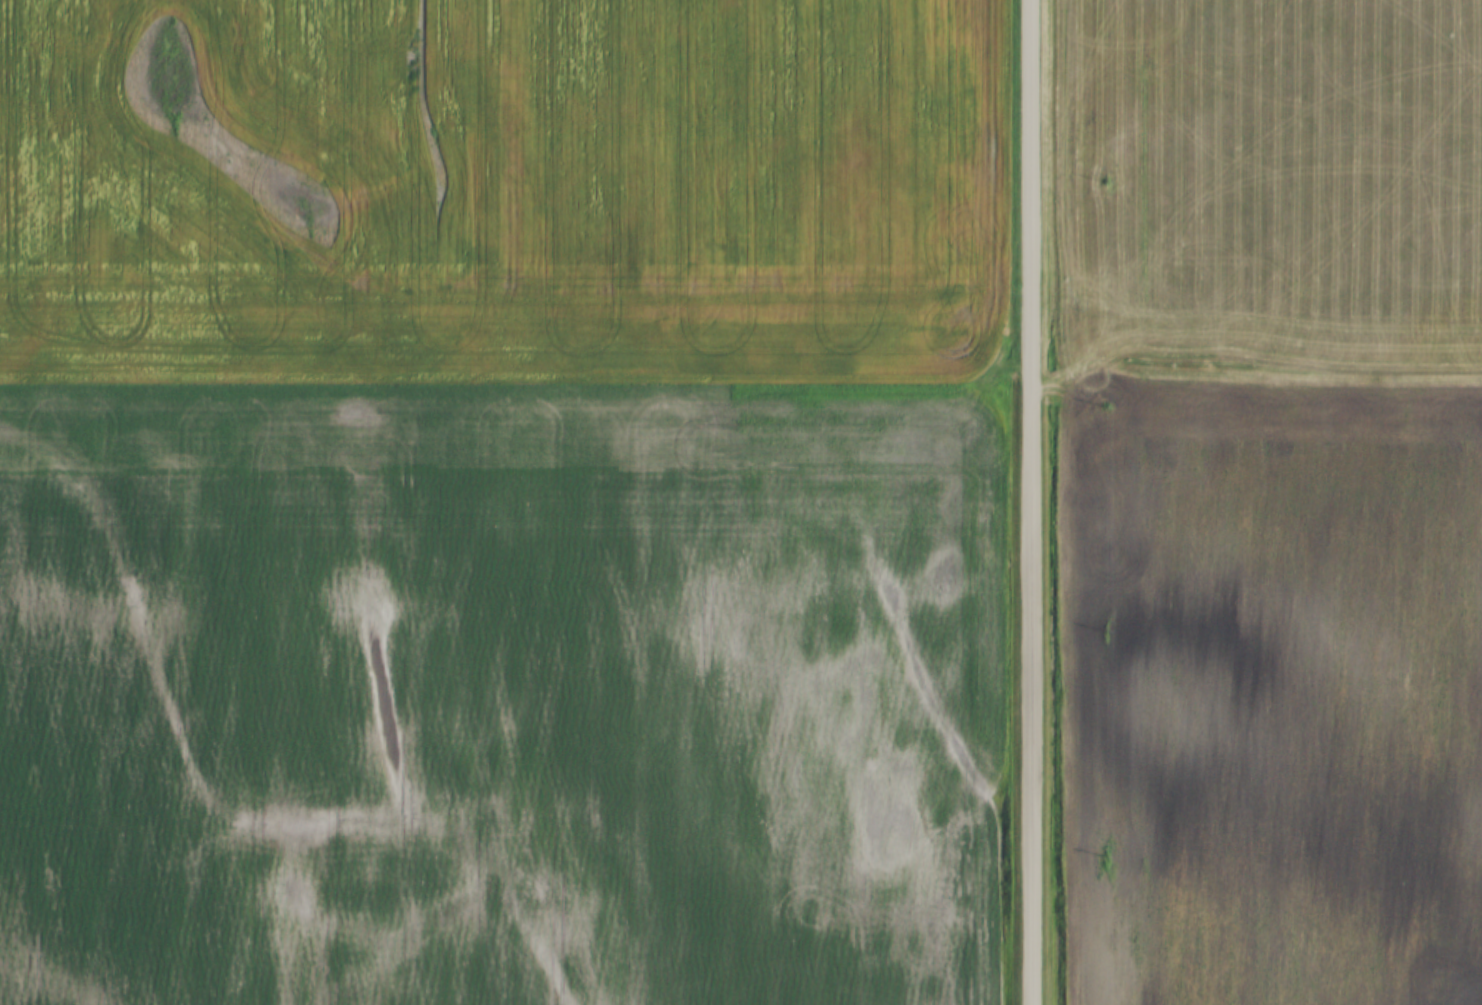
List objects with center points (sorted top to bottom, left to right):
road: (1030, 502)

